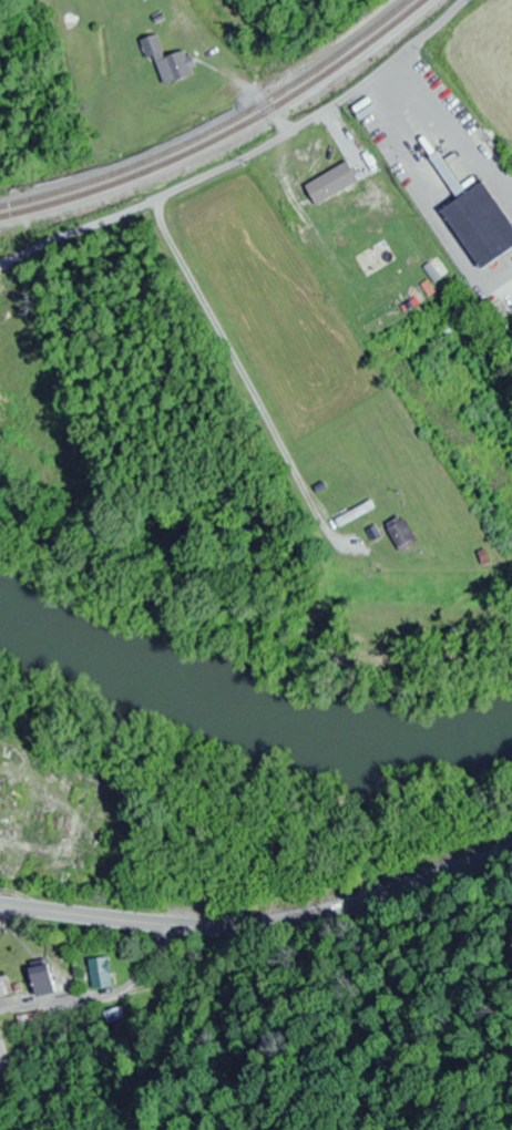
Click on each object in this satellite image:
building: (167, 62)
road: (237, 69)
road: (376, 70)
railway: (215, 126)
railway: (225, 132)
road: (237, 161)
building: (477, 219)
building: (372, 220)
building: (355, 514)
building: (402, 534)
river: (244, 705)
road: (260, 923)
building: (100, 975)
building: (41, 982)
building: (6, 987)

